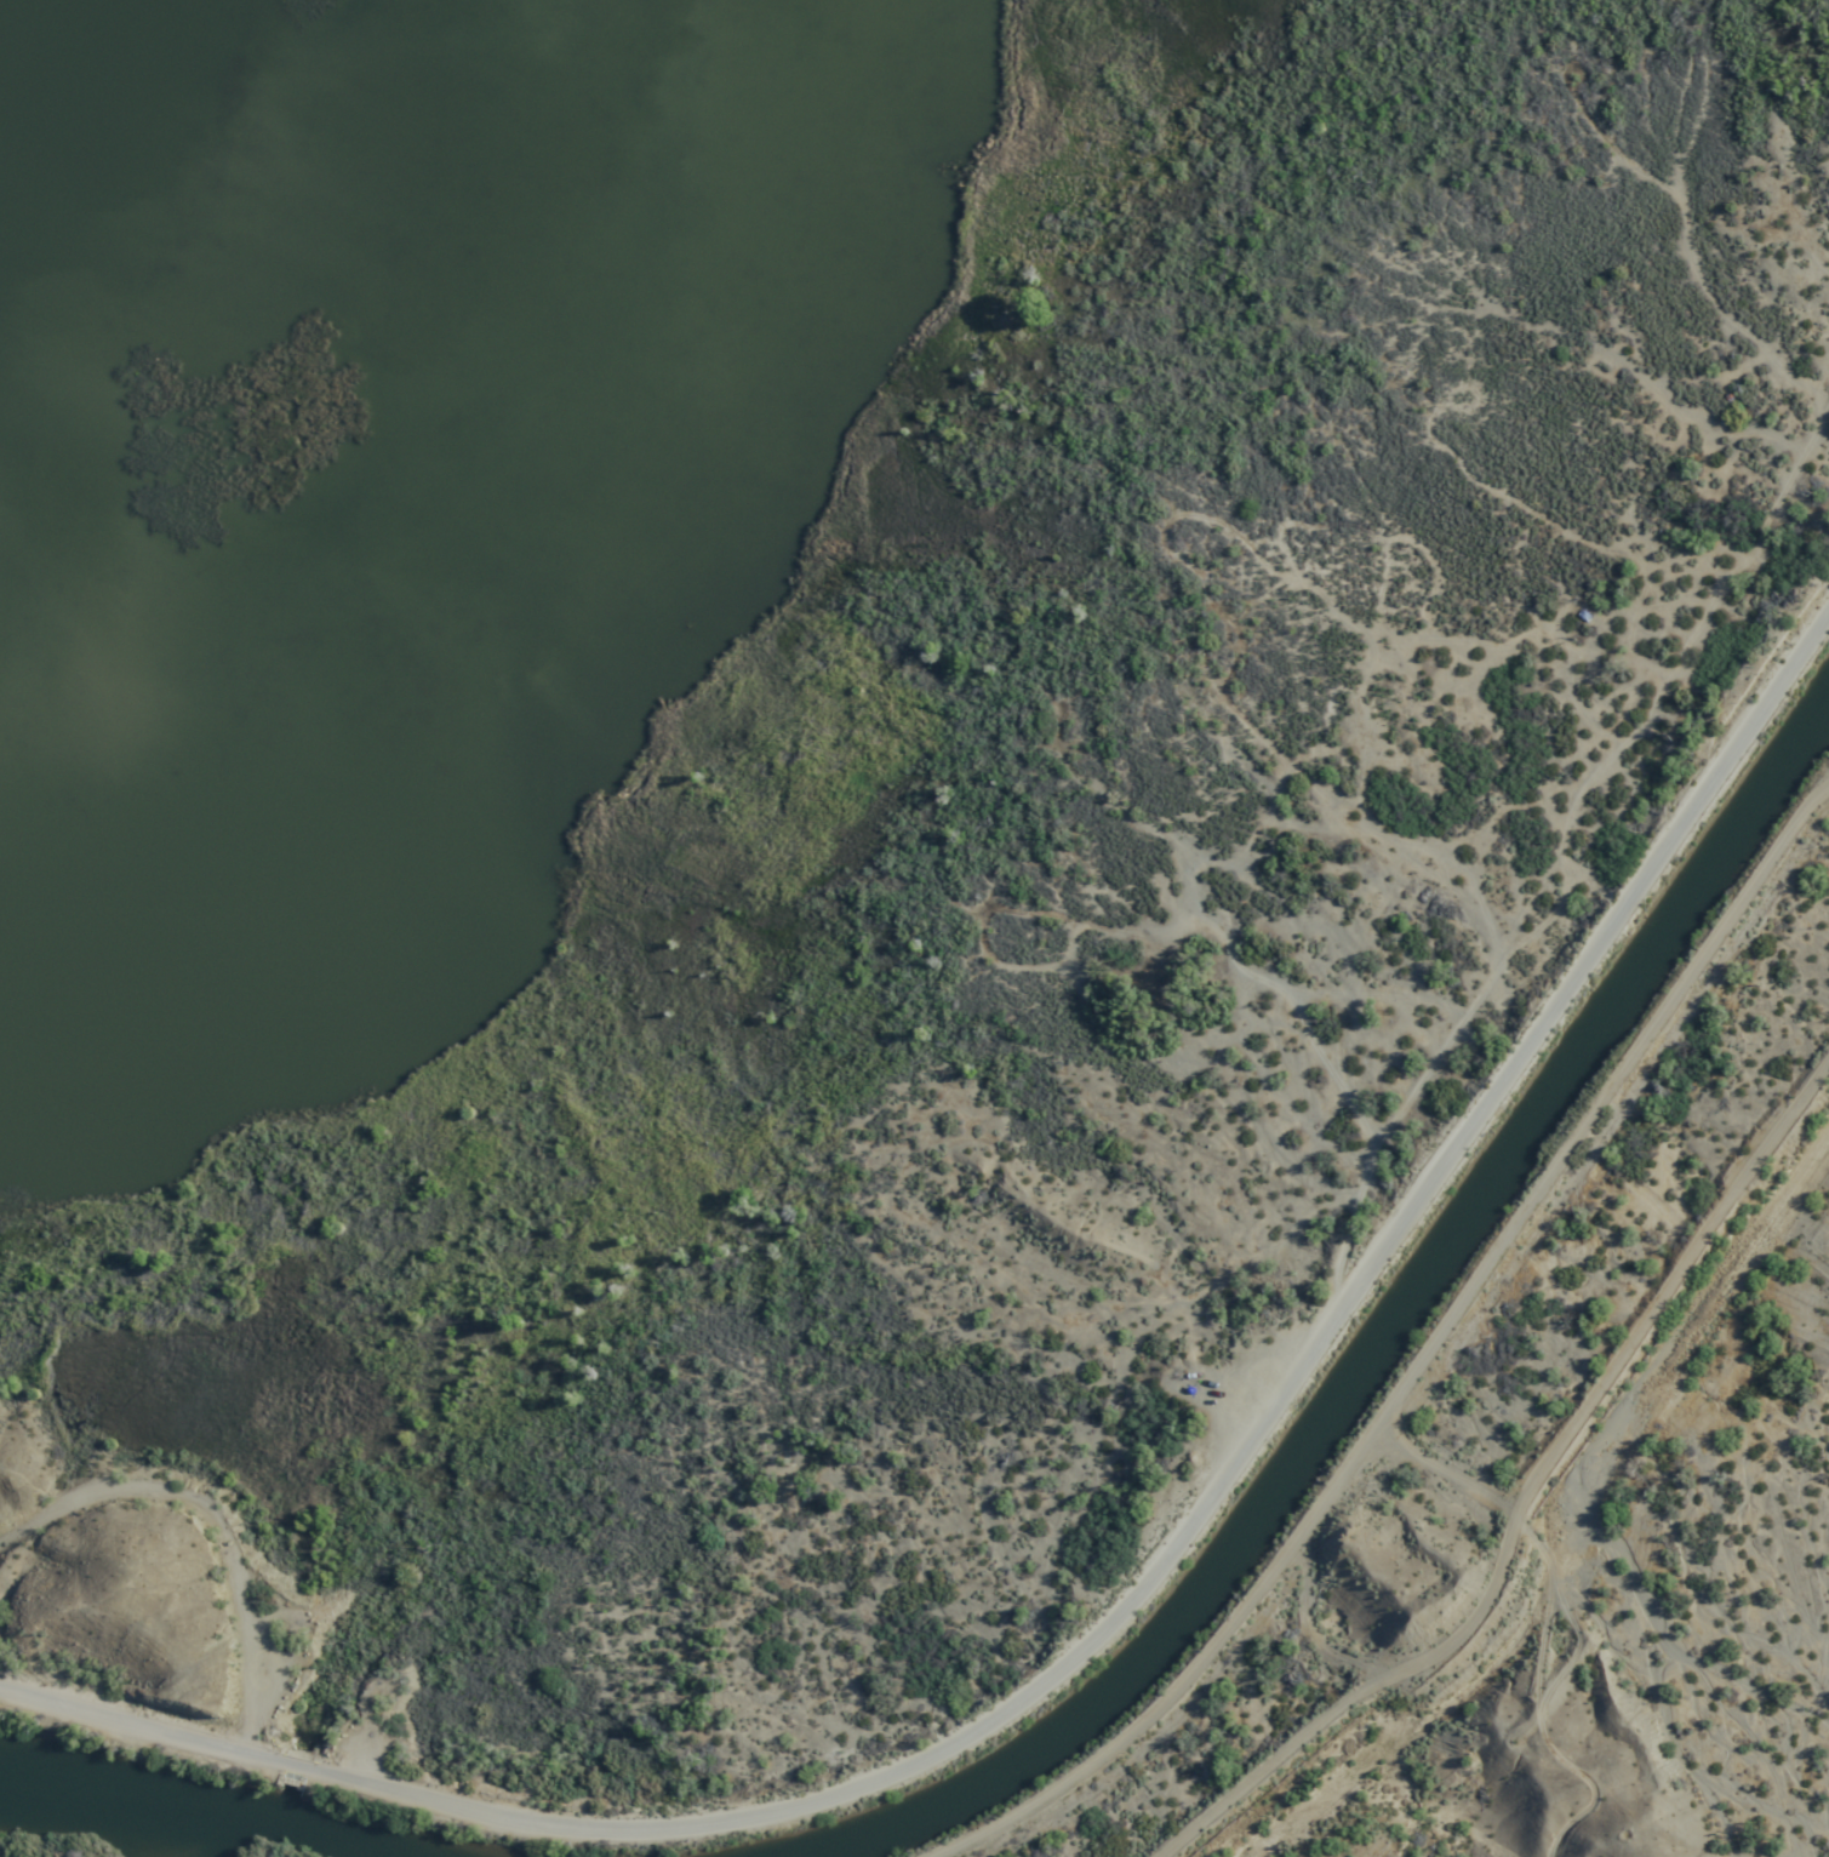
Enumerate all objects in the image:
river: (1378, 1350)
road: (1130, 1601)
river: (202, 1819)

